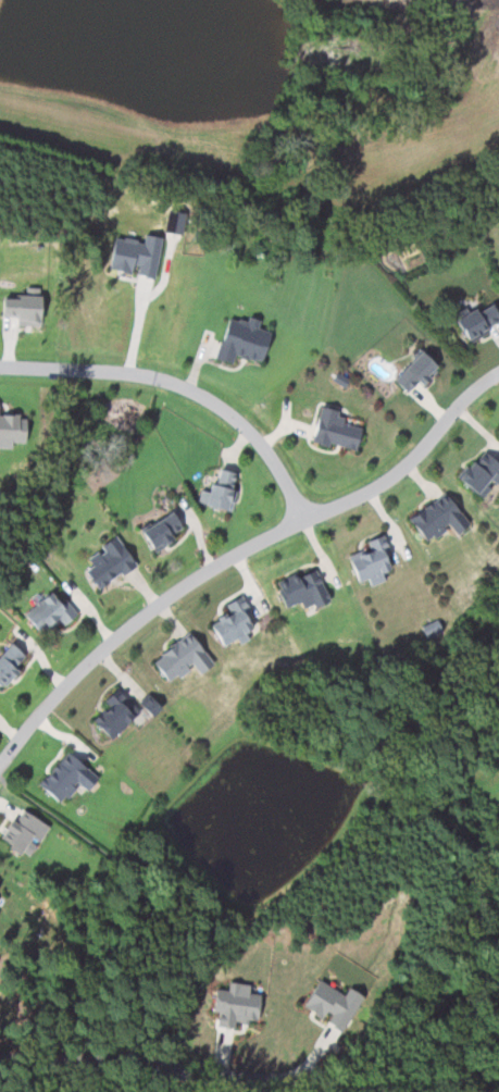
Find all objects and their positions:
building: (174, 221)
building: (136, 253)
building: (24, 307)
building: (477, 321)
road: (138, 328)
building: (239, 339)
building: (415, 371)
road: (182, 388)
building: (12, 430)
building: (333, 430)
building: (479, 474)
building: (220, 489)
building: (436, 519)
building: (160, 531)
road: (238, 557)
building: (107, 562)
building: (370, 562)
building: (300, 590)
building: (47, 612)
building: (232, 623)
building: (179, 658)
building: (9, 662)
building: (151, 705)
building: (113, 713)
building: (64, 777)
building: (24, 831)
building: (236, 1004)
building: (334, 1004)
road: (167, 1064)

